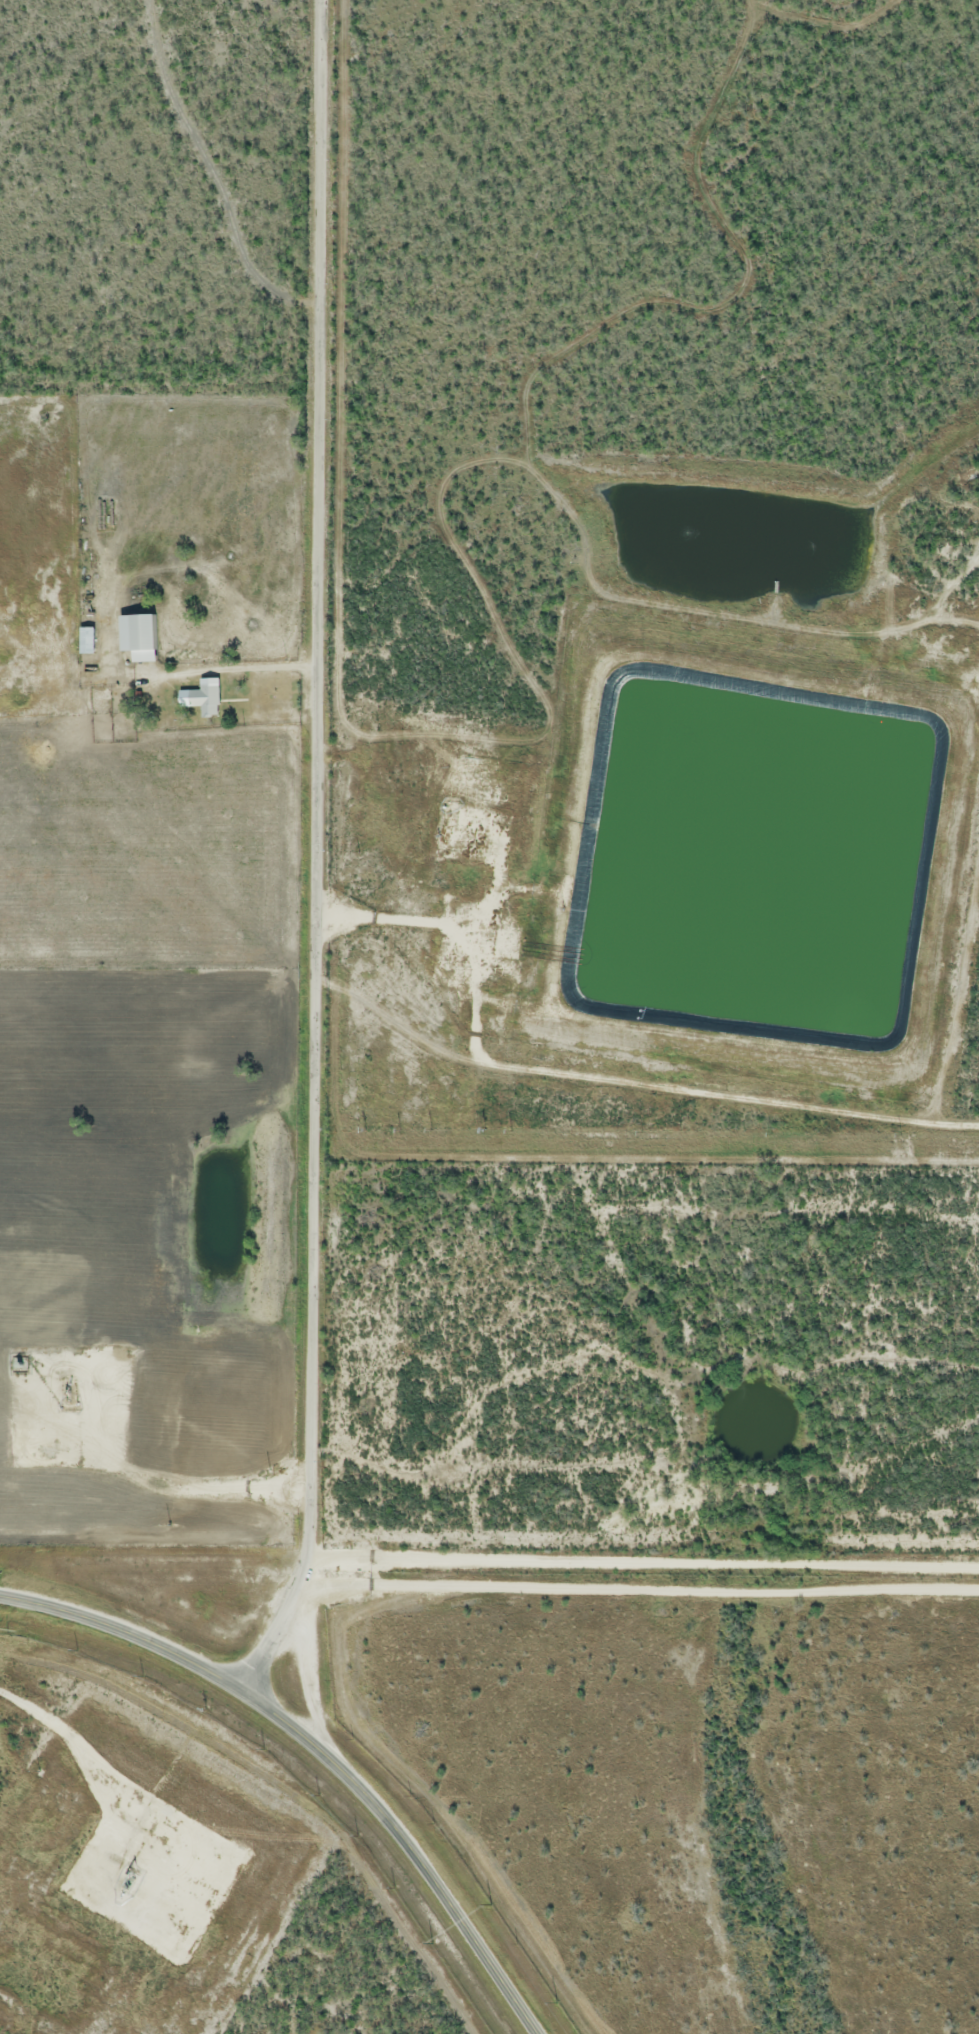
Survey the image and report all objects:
building: (142, 639)
building: (87, 643)
building: (207, 700)
road: (317, 780)
road: (578, 1083)
road: (150, 1466)
road: (646, 1563)
road: (558, 1593)
road: (279, 1628)
road: (318, 1751)
road: (109, 1798)

